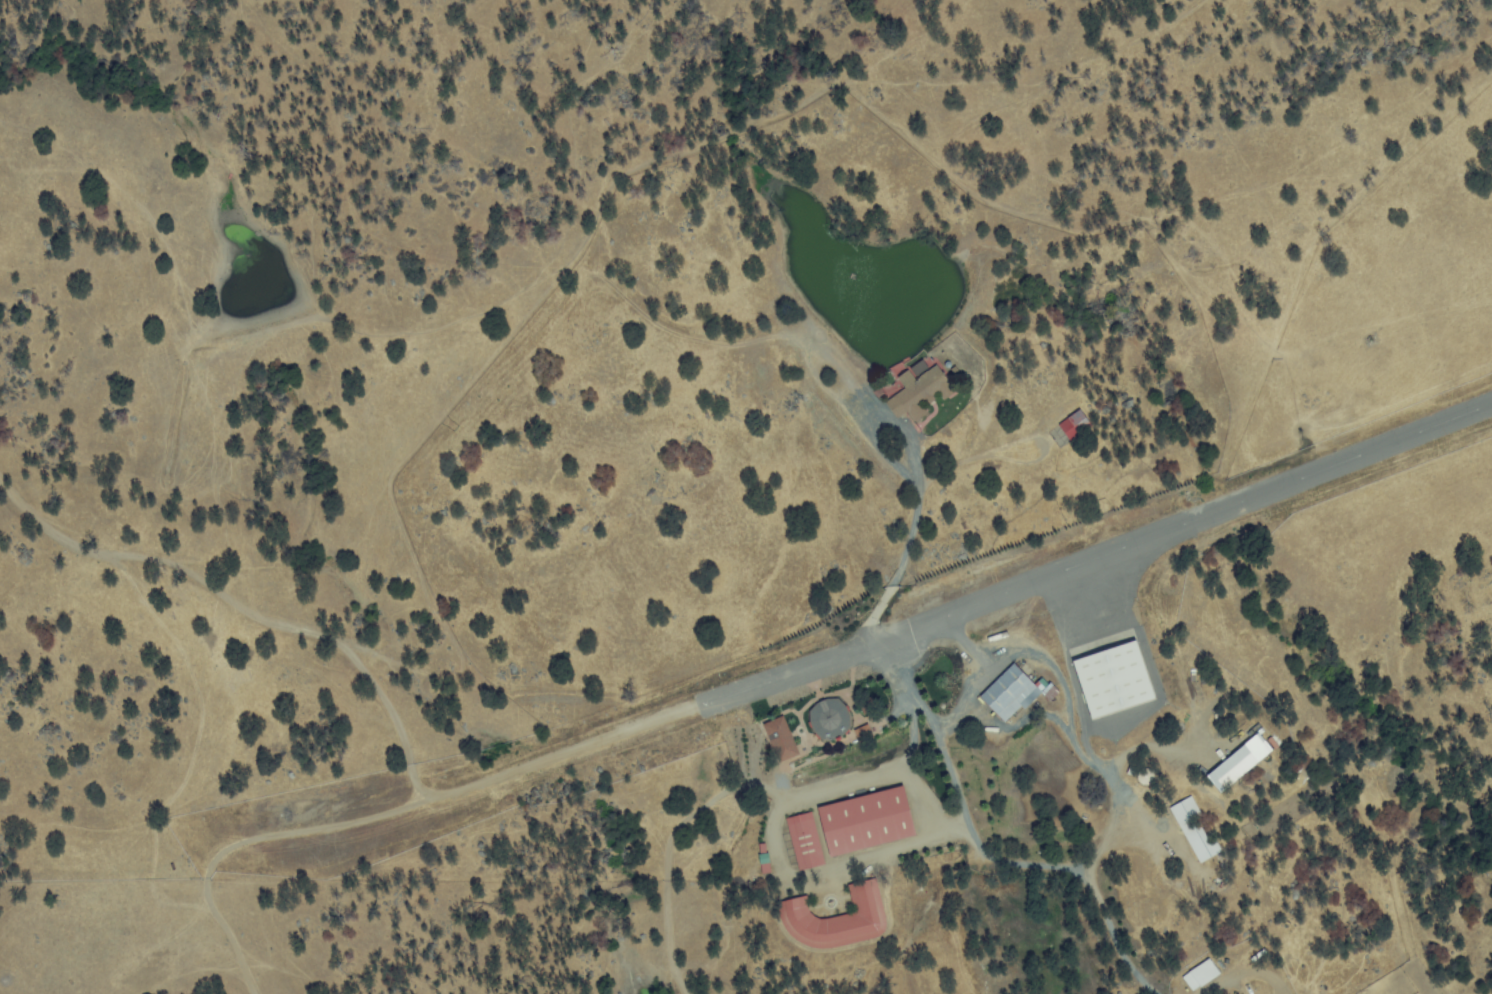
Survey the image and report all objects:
building: (918, 395)
airport runway: (1098, 552)
building: (1112, 681)
building: (1009, 694)
building: (862, 735)
building: (865, 823)
building: (805, 843)
road: (1092, 880)
building: (1200, 977)

